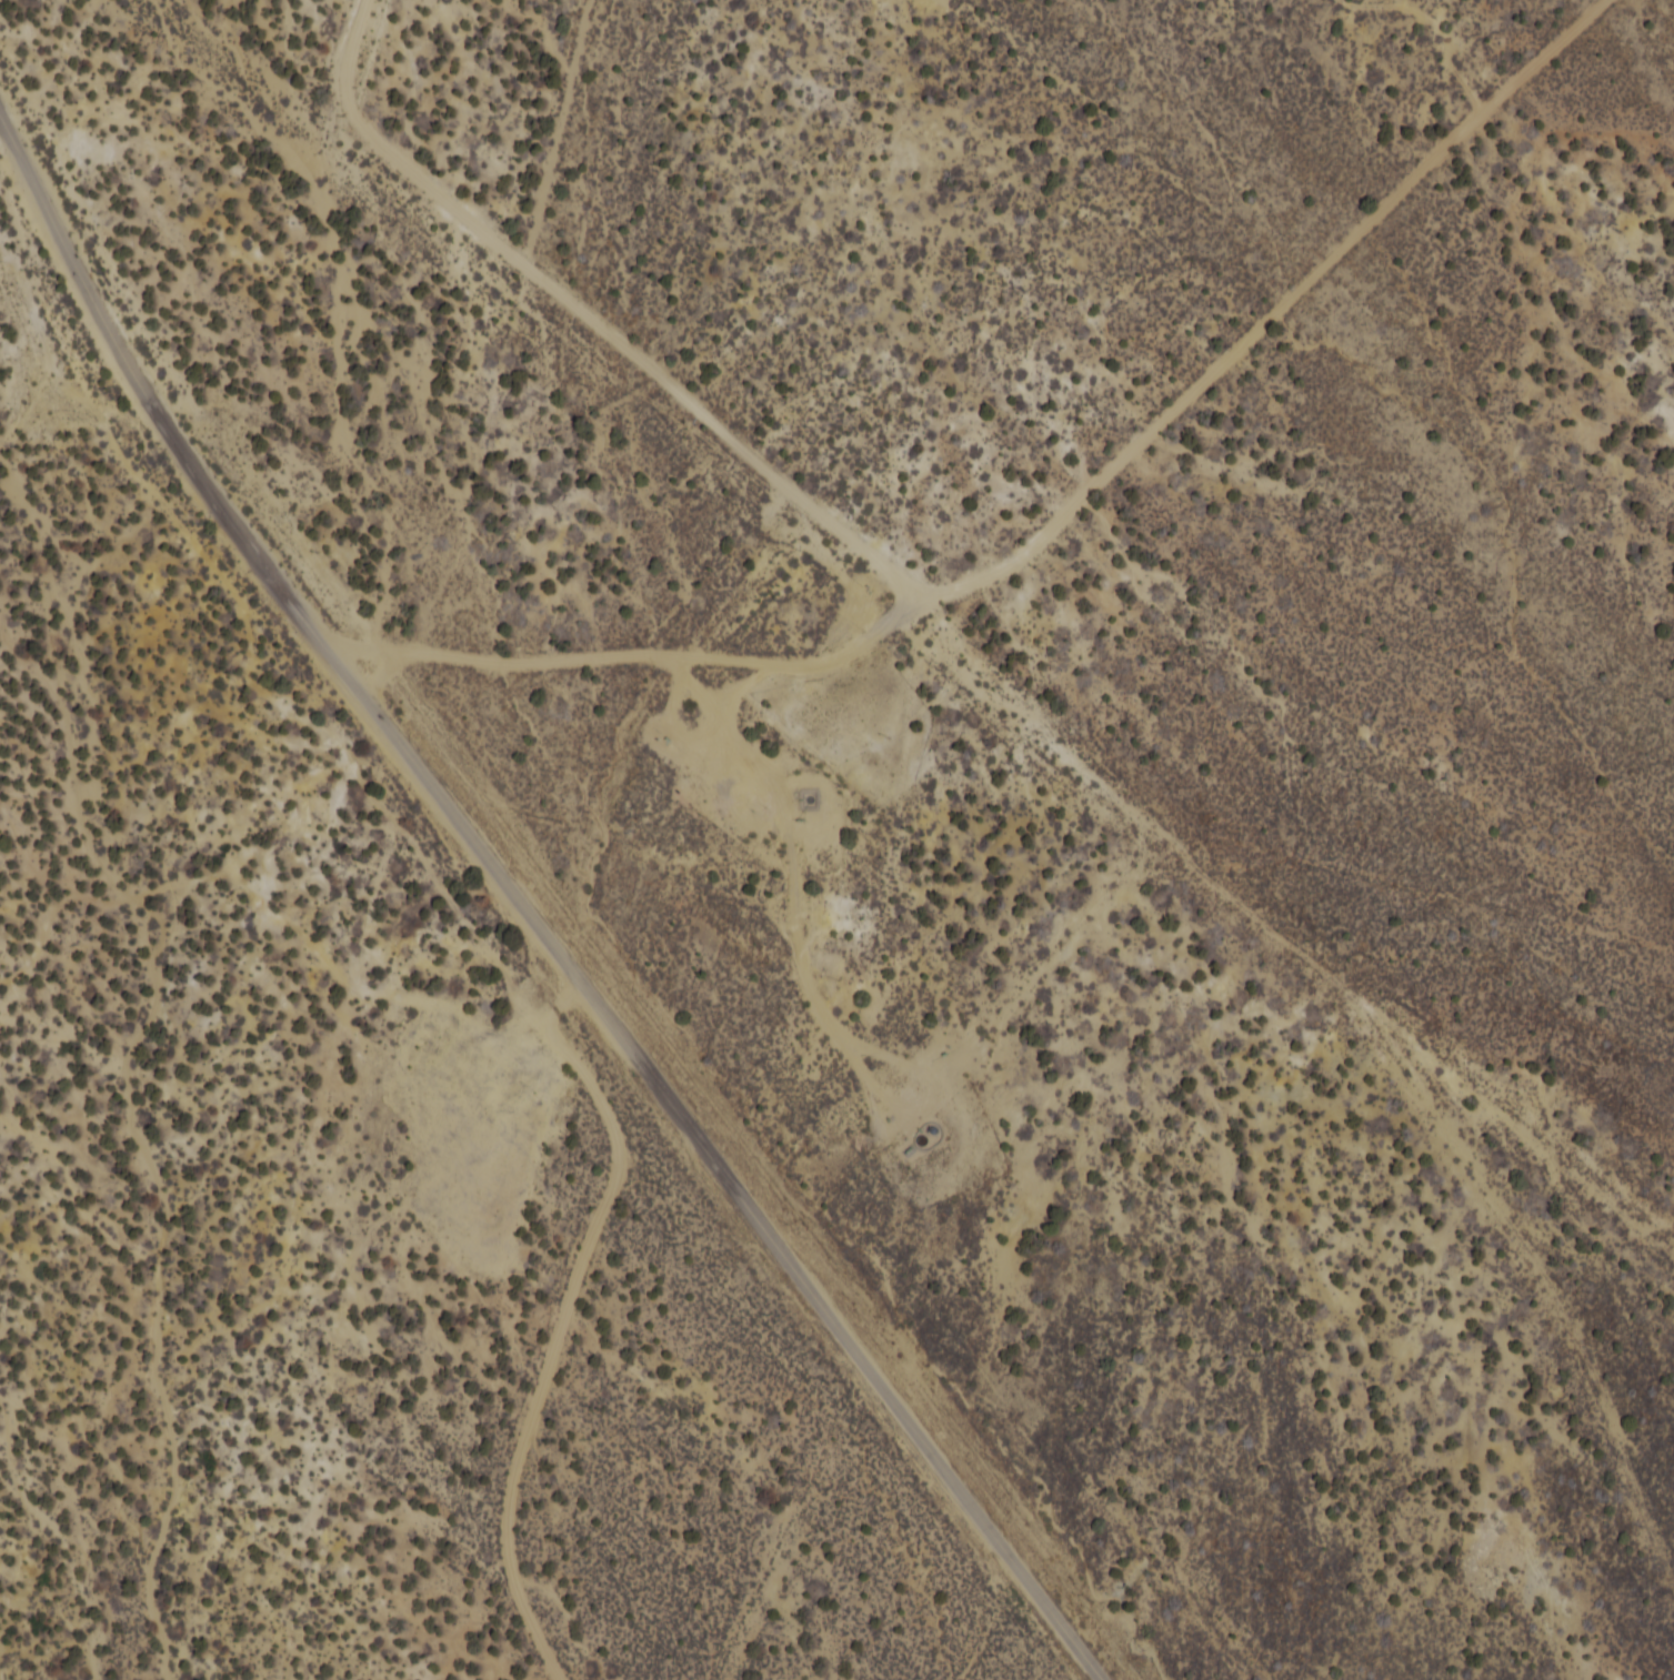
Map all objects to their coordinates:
road: (1089, 616)
road: (749, 885)
road: (531, 907)
road: (568, 1309)

